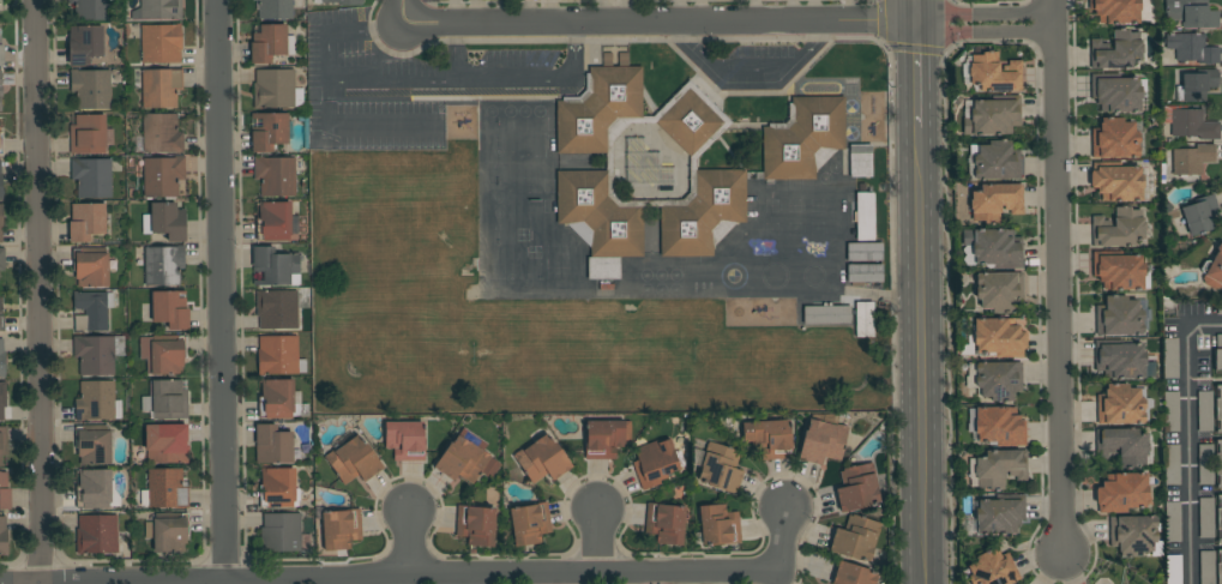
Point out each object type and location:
building: (344, 1)
road: (988, 1)
building: (275, 8)
building: (90, 10)
building: (159, 10)
building: (1115, 11)
road: (919, 12)
road: (401, 13)
building: (1191, 13)
road: (727, 25)
road: (986, 41)
building: (161, 43)
building: (271, 43)
building: (85, 44)
building: (1191, 48)
building: (1115, 50)
building: (1, 53)
building: (991, 73)
road: (920, 74)
road: (750, 77)
road: (416, 79)
building: (0, 80)
building: (1197, 86)
building: (161, 88)
building: (91, 89)
building: (276, 90)
building: (1115, 92)
building: (0, 103)
building: (993, 116)
building: (1190, 124)
building: (269, 131)
building: (88, 134)
building: (161, 134)
building: (802, 138)
building: (1114, 139)
building: (1, 144)
building: (644, 158)
building: (1192, 159)
building: (860, 161)
building: (997, 161)
building: (159, 175)
building: (275, 175)
building: (720, 175)
building: (92, 177)
building: (1116, 181)
building: (0, 182)
building: (995, 201)
building: (1199, 213)
building: (865, 217)
building: (88, 222)
building: (164, 222)
building: (273, 222)
building: (1, 223)
building: (1118, 228)
building: (992, 248)
building: (865, 252)
building: (2, 259)
building: (163, 265)
building: (90, 266)
building: (275, 266)
building: (1214, 270)
building: (1119, 271)
building: (863, 273)
road: (1058, 278)
building: (606, 290)
road: (37, 291)
road: (219, 291)
building: (999, 291)
road: (1074, 297)
building: (1218, 307)
building: (169, 309)
building: (277, 309)
building: (91, 311)
building: (826, 315)
building: (1119, 317)
building: (1, 318)
building: (863, 319)
building: (998, 338)
building: (97, 354)
building: (163, 354)
road: (920, 354)
building: (1218, 354)
building: (279, 356)
building: (1, 359)
building: (1170, 359)
building: (1119, 360)
building: (994, 379)
building: (2, 399)
building: (95, 401)
building: (165, 401)
building: (278, 401)
building: (1121, 405)
building: (1218, 408)
building: (1204, 410)
building: (1170, 411)
building: (997, 426)
building: (603, 439)
building: (770, 439)
building: (405, 440)
building: (2, 441)
building: (821, 441)
road: (1188, 441)
building: (92, 444)
building: (163, 445)
building: (272, 445)
building: (1121, 445)
building: (465, 458)
building: (542, 459)
building: (353, 460)
building: (655, 463)
building: (1218, 463)
building: (1205, 464)
building: (1172, 465)
building: (720, 468)
building: (1000, 468)
building: (278, 488)
building: (859, 488)
building: (94, 489)
building: (165, 489)
building: (4, 493)
building: (1121, 493)
building: (1000, 514)
building: (1206, 518)
building: (1220, 519)
building: (666, 522)
building: (1173, 522)
building: (475, 524)
building: (529, 524)
building: (718, 524)
building: (341, 529)
building: (168, 531)
building: (281, 532)
building: (96, 534)
building: (1133, 535)
building: (2, 536)
road: (783, 537)
road: (598, 538)
building: (855, 538)
road: (408, 541)
building: (1220, 566)
building: (1206, 567)
building: (992, 568)
building: (1173, 568)
road: (469, 574)
building: (851, 574)
road: (1046, 579)

